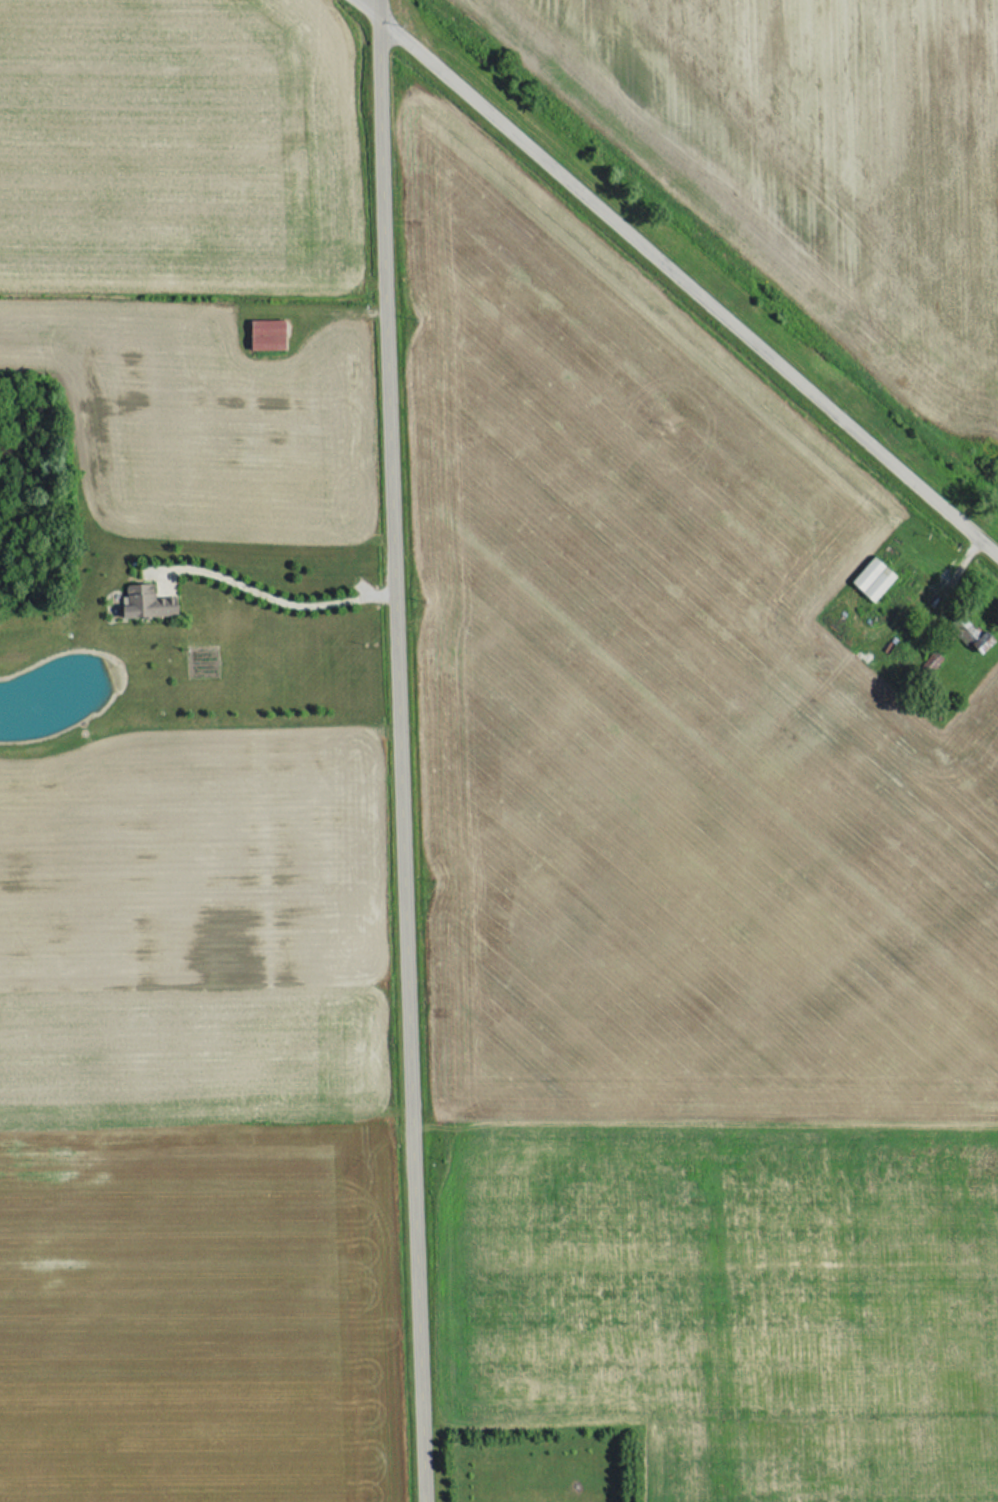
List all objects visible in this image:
road: (370, 7)
crop: (169, 145)
crop: (824, 145)
railway: (713, 248)
road: (688, 282)
building: (263, 335)
building: (870, 579)
road: (284, 604)
road: (404, 750)
crop: (699, 933)
crop: (196, 1122)

